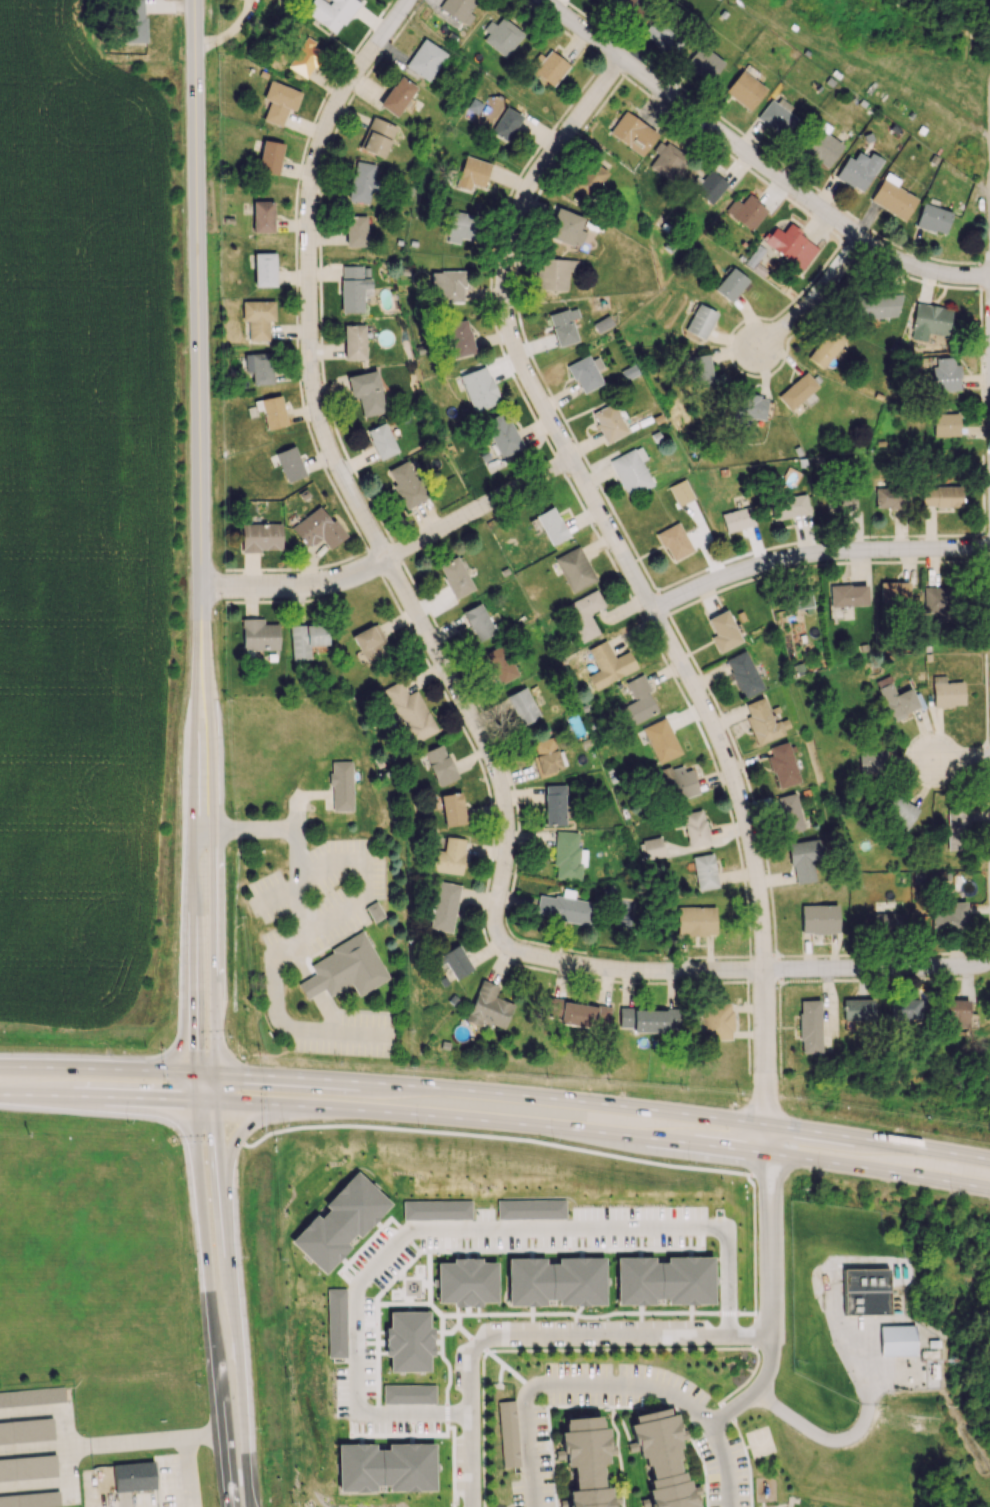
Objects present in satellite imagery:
power tower: (739, 3)
building: (629, 6)
building: (458, 9)
building: (330, 12)
building: (134, 21)
building: (501, 36)
building: (304, 57)
building: (424, 59)
building: (704, 62)
building: (550, 67)
building: (744, 90)
building: (397, 96)
building: (279, 101)
building: (777, 116)
building: (506, 124)
building: (632, 133)
building: (377, 137)
building: (823, 147)
building: (269, 157)
building: (667, 160)
road: (756, 160)
building: (858, 170)
building: (471, 173)
building: (589, 180)
building: (362, 182)
building: (710, 187)
building: (892, 197)
building: (746, 211)
building: (262, 216)
building: (933, 218)
building: (460, 226)
building: (564, 227)
building: (356, 230)
building: (791, 245)
building: (264, 269)
building: (554, 273)
building: (730, 284)
building: (447, 286)
building: (354, 287)
road: (815, 297)
building: (878, 305)
building: (258, 318)
building: (700, 321)
building: (929, 321)
building: (563, 325)
road: (311, 328)
building: (459, 338)
building: (354, 342)
road: (198, 344)
building: (826, 346)
building: (259, 367)
building: (700, 369)
building: (585, 373)
building: (944, 374)
building: (478, 388)
building: (796, 391)
building: (367, 392)
building: (749, 407)
building: (271, 411)
building: (608, 422)
building: (945, 423)
building: (502, 433)
building: (381, 440)
building: (290, 463)
building: (630, 471)
building: (405, 484)
building: (941, 496)
building: (891, 497)
building: (840, 499)
building: (789, 506)
building: (737, 519)
building: (551, 526)
building: (317, 529)
building: (261, 536)
building: (674, 541)
road: (396, 557)
road: (816, 557)
building: (574, 569)
building: (455, 577)
building: (894, 592)
building: (848, 595)
building: (934, 600)
building: (801, 601)
building: (584, 614)
building: (478, 621)
building: (723, 631)
building: (258, 634)
building: (306, 639)
building: (367, 643)
building: (500, 664)
building: (608, 664)
road: (682, 664)
building: (743, 674)
building: (947, 692)
building: (638, 701)
building: (897, 701)
building: (522, 706)
building: (409, 712)
building: (763, 721)
building: (661, 740)
road: (708, 754)
building: (546, 755)
building: (876, 758)
road: (959, 759)
building: (439, 764)
building: (782, 765)
building: (679, 781)
building: (341, 785)
building: (554, 804)
building: (451, 809)
building: (899, 811)
building: (789, 812)
building: (695, 827)
building: (956, 829)
building: (651, 848)
building: (449, 856)
building: (568, 856)
building: (803, 859)
building: (702, 871)
building: (945, 879)
building: (918, 884)
road: (191, 893)
road: (215, 894)
parking lot: (315, 899)
building: (444, 906)
building: (565, 907)
building: (374, 911)
building: (950, 916)
building: (818, 918)
building: (889, 919)
building: (695, 921)
road: (295, 947)
road: (540, 958)
building: (455, 961)
building: (350, 966)
road: (939, 967)
building: (488, 1006)
building: (905, 1008)
building: (857, 1009)
building: (960, 1013)
building: (644, 1019)
building: (717, 1022)
building: (809, 1026)
parking lot: (346, 1033)
road: (95, 1069)
traffic signals: (190, 1072)
traffic signals: (215, 1073)
road: (479, 1092)
road: (95, 1097)
traffic signals: (191, 1100)
traffic signals: (215, 1101)
road: (480, 1120)
road: (249, 1124)
road: (878, 1141)
road: (879, 1169)
building: (437, 1209)
building: (531, 1209)
building: (340, 1222)
road: (460, 1226)
building: (664, 1280)
building: (555, 1281)
building: (466, 1282)
building: (867, 1292)
road: (211, 1303)
road: (232, 1303)
road: (754, 1305)
building: (336, 1322)
road: (629, 1333)
building: (408, 1341)
building: (900, 1341)
road: (755, 1386)
road: (601, 1388)
building: (408, 1393)
building: (32, 1398)
road: (47, 1410)
road: (469, 1417)
building: (26, 1431)
building: (508, 1433)
road: (845, 1435)
road: (715, 1440)
road: (124, 1442)
road: (528, 1446)
road: (32, 1449)
road: (184, 1450)
building: (660, 1459)
building: (585, 1461)
building: (385, 1467)
building: (28, 1468)
building: (133, 1476)
road: (49, 1483)
building: (31, 1499)

